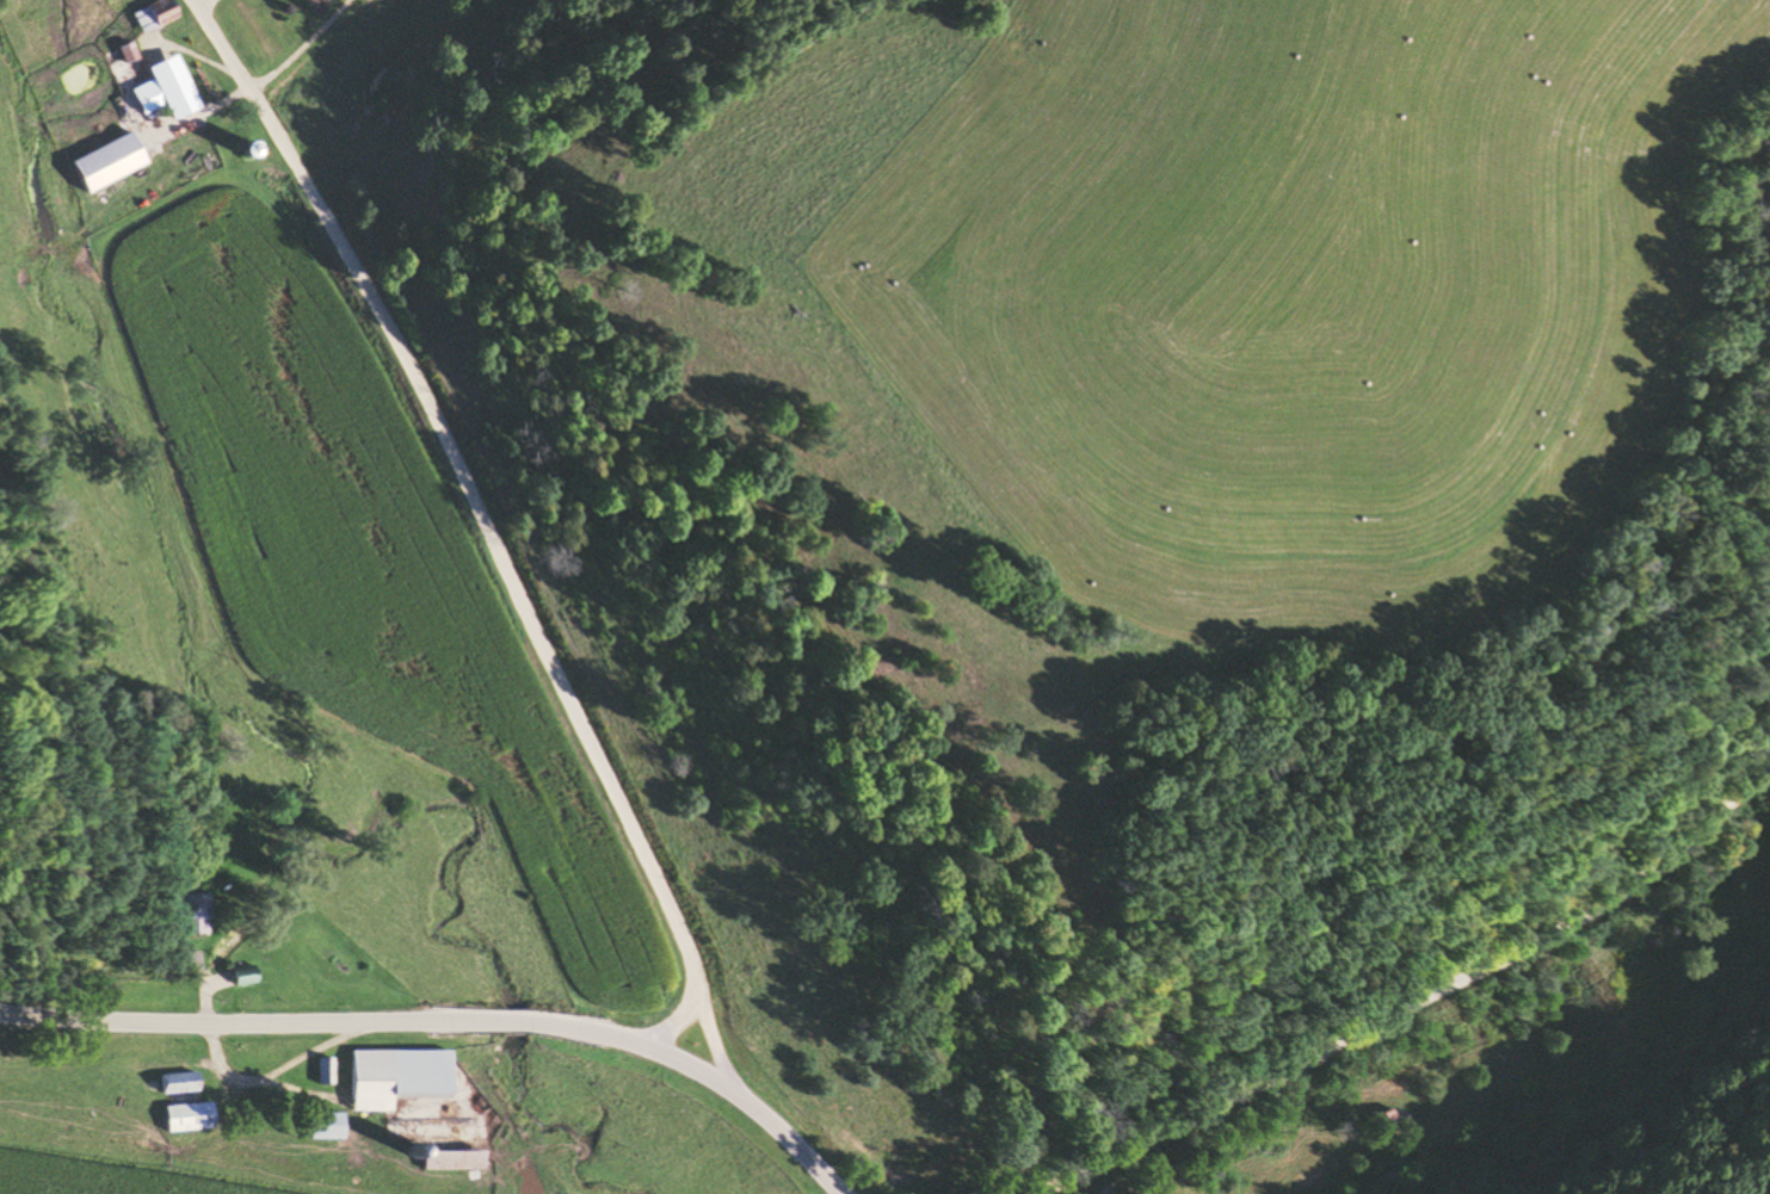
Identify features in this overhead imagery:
building: (321, 0)
building: (153, 14)
crop: (48, 32)
building: (162, 93)
building: (104, 160)
crop: (1241, 283)
crop: (85, 438)
road: (493, 533)
building: (191, 912)
building: (241, 976)
road: (1413, 991)
road: (449, 1016)
road: (680, 1016)
building: (393, 1076)
building: (175, 1082)
building: (185, 1116)
building: (1383, 1124)
building: (322, 1125)
crop: (105, 1176)

